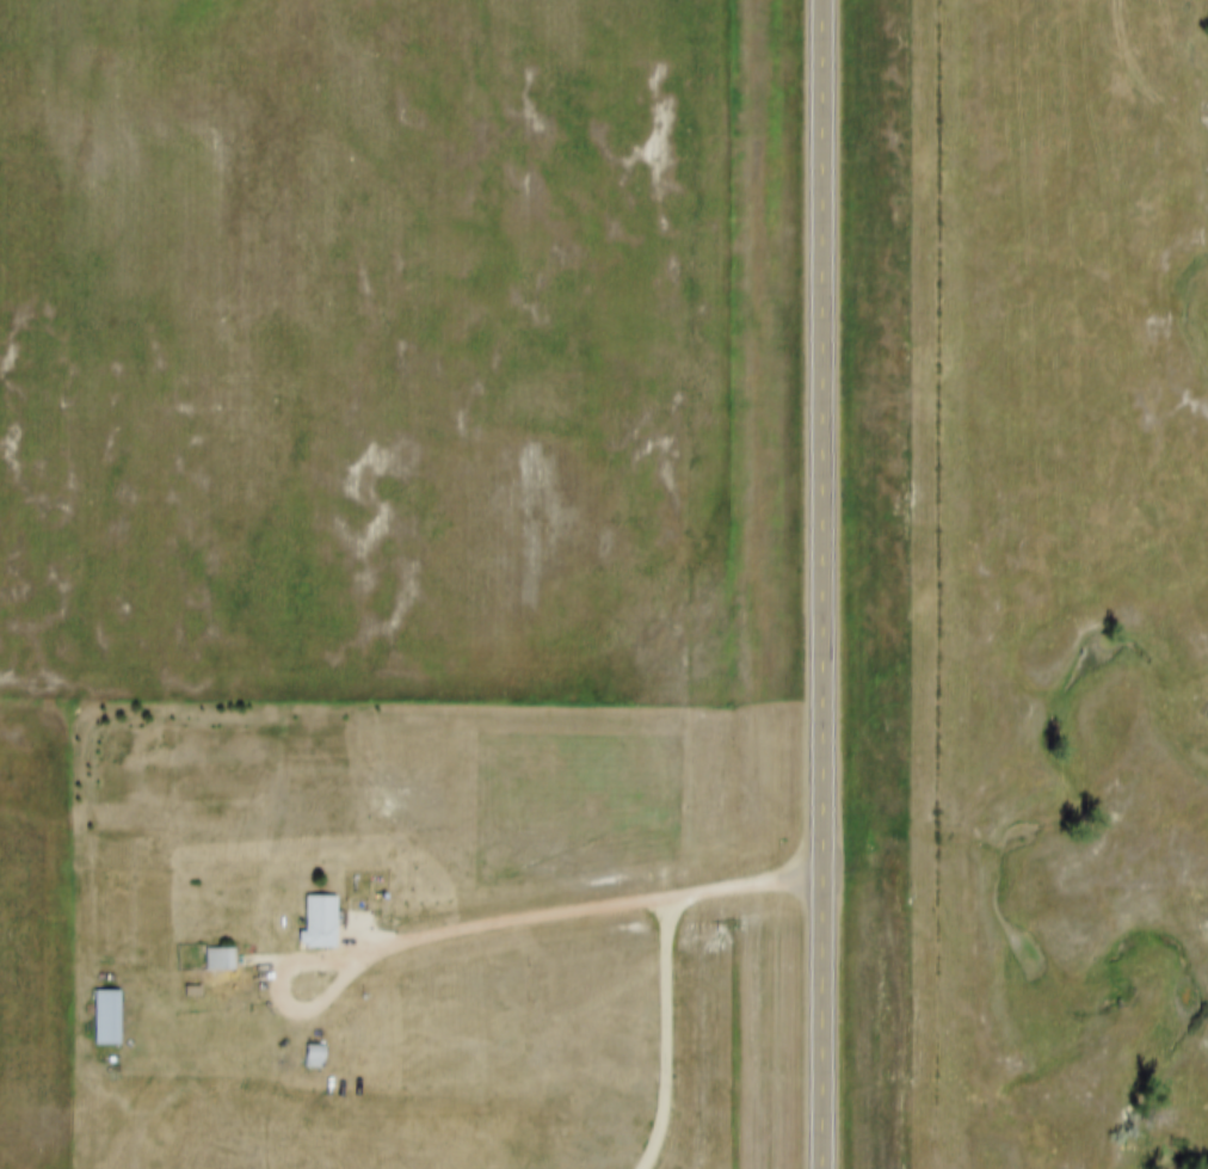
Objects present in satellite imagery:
road: (820, 584)
building: (313, 911)
road: (485, 928)
building: (214, 948)
building: (100, 1005)
building: (310, 1046)

